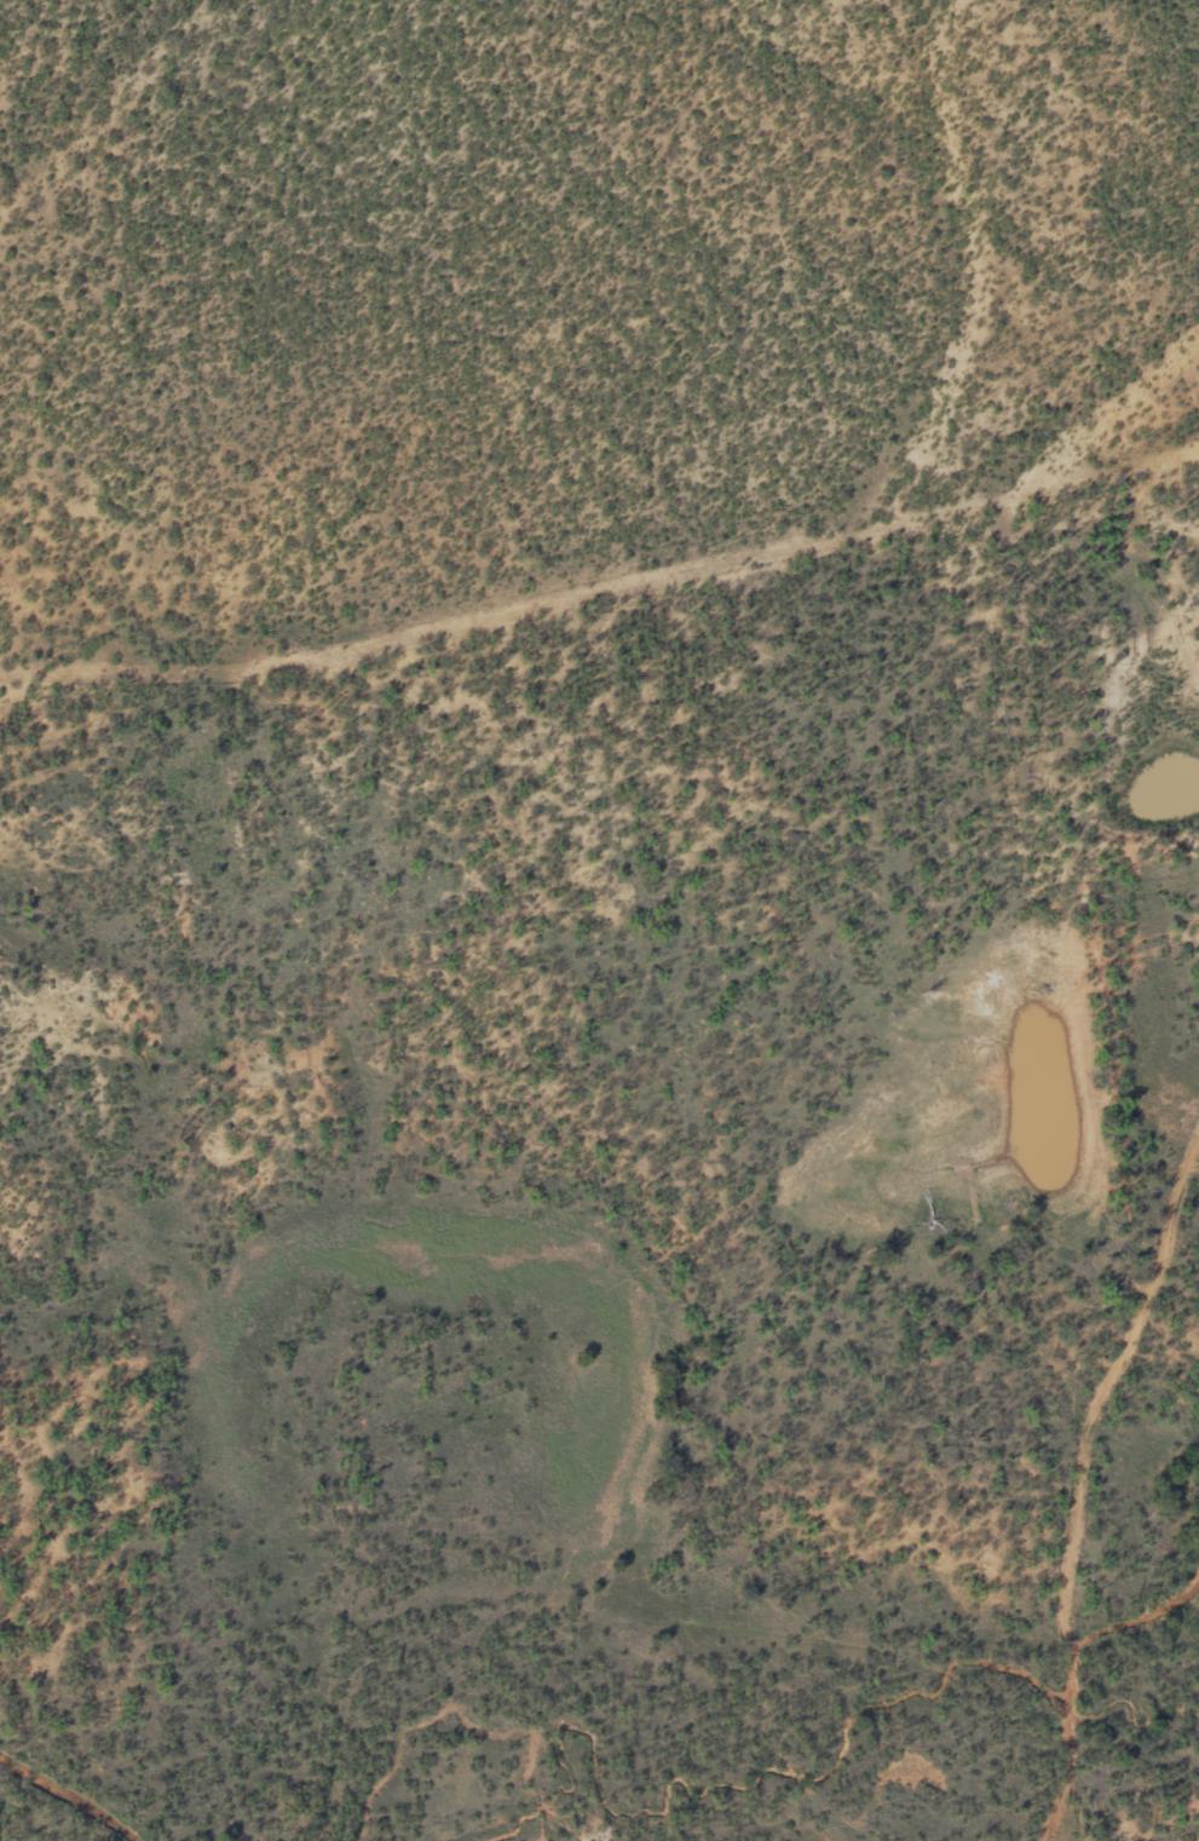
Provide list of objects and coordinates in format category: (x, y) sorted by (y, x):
road: (1095, 1517)

